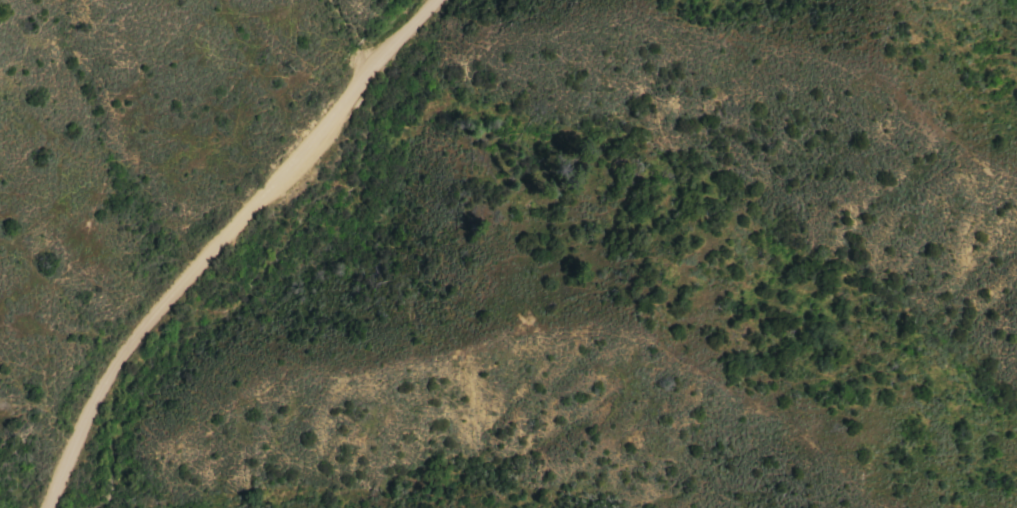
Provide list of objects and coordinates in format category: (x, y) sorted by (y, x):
road: (219, 238)

